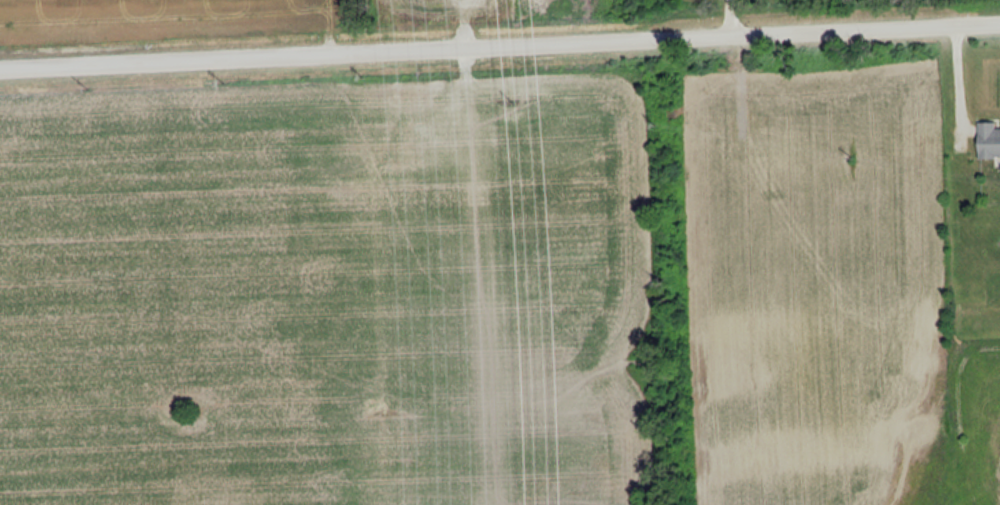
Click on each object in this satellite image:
power tower: (438, 0)
road: (728, 17)
road: (499, 45)
building: (987, 139)

